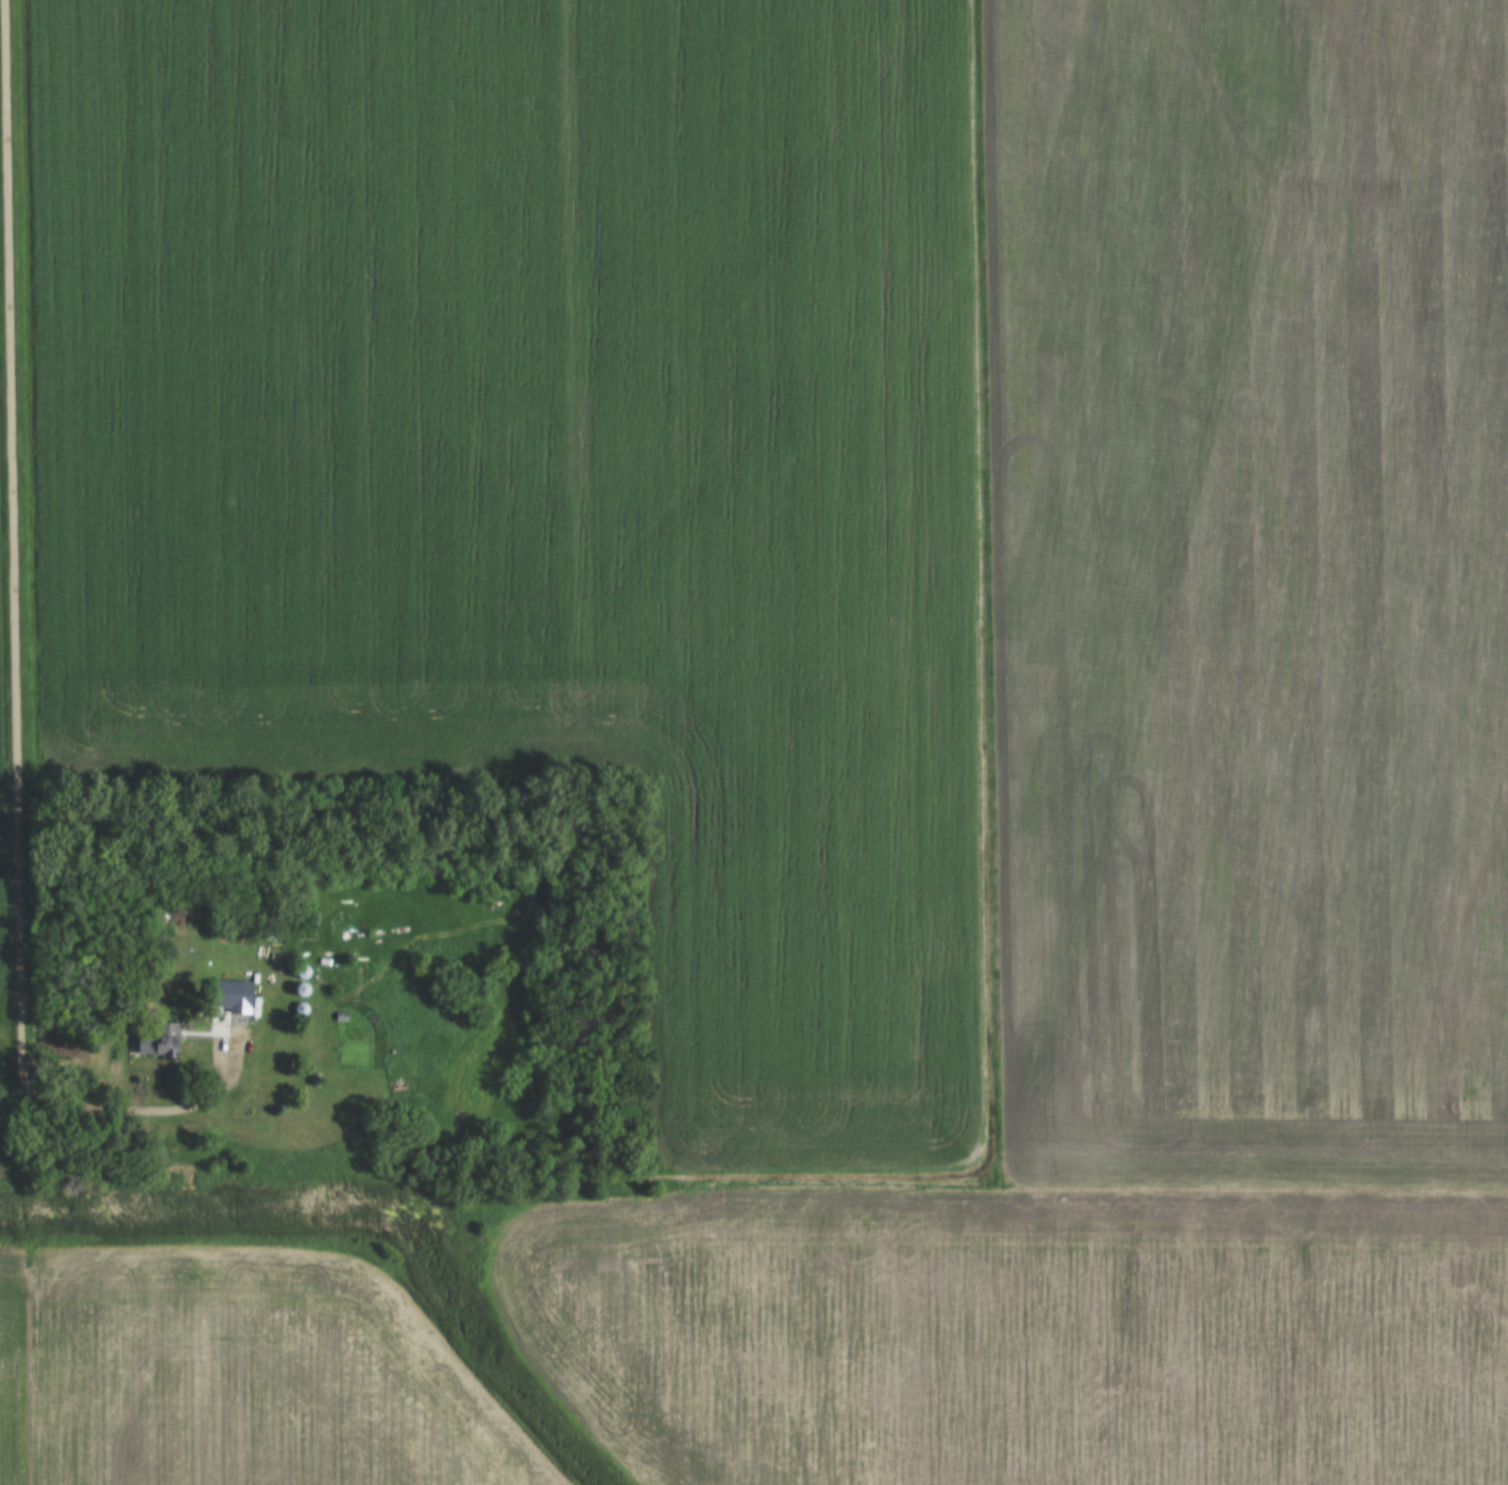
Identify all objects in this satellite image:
road: (16, 682)

